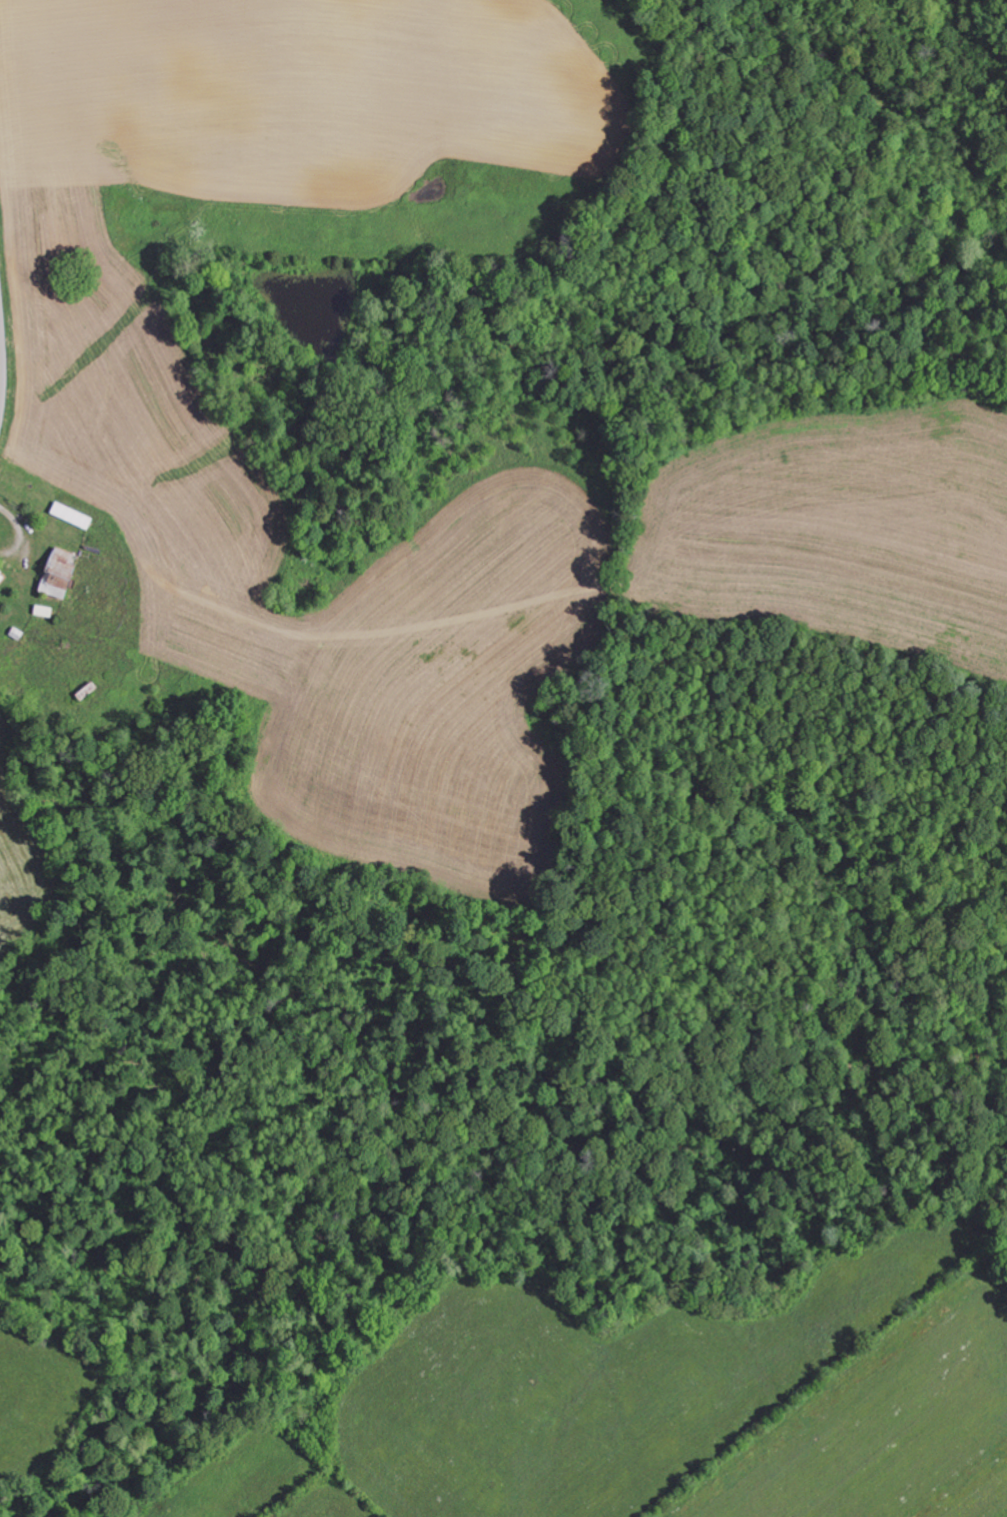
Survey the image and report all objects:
road: (0, 369)
building: (57, 573)
building: (1, 575)

